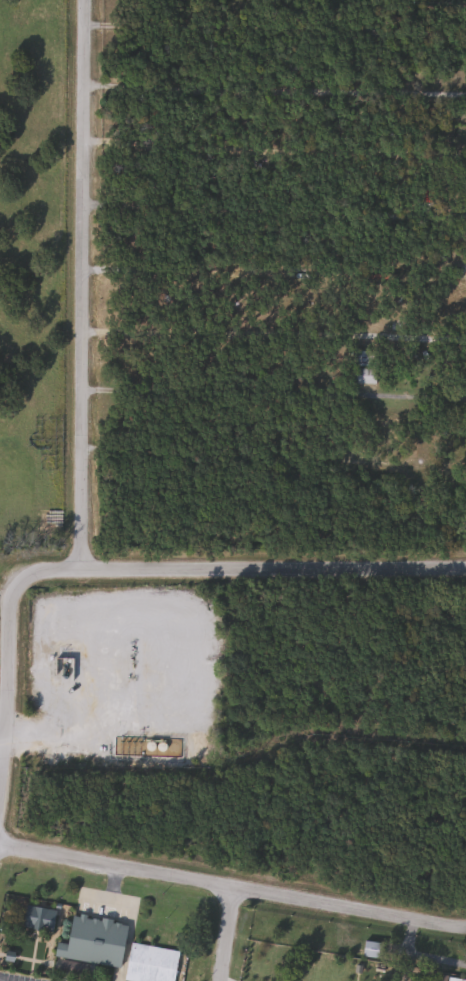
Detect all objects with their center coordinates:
road: (275, 29)
road: (275, 91)
road: (84, 279)
road: (275, 333)
building: (358, 357)
building: (362, 375)
road: (275, 559)
road: (9, 644)
road: (4, 747)
road: (233, 885)
road: (223, 932)
road: (405, 934)
building: (89, 943)
building: (370, 949)
road: (434, 958)
building: (149, 963)
building: (455, 979)
road: (220, 980)

